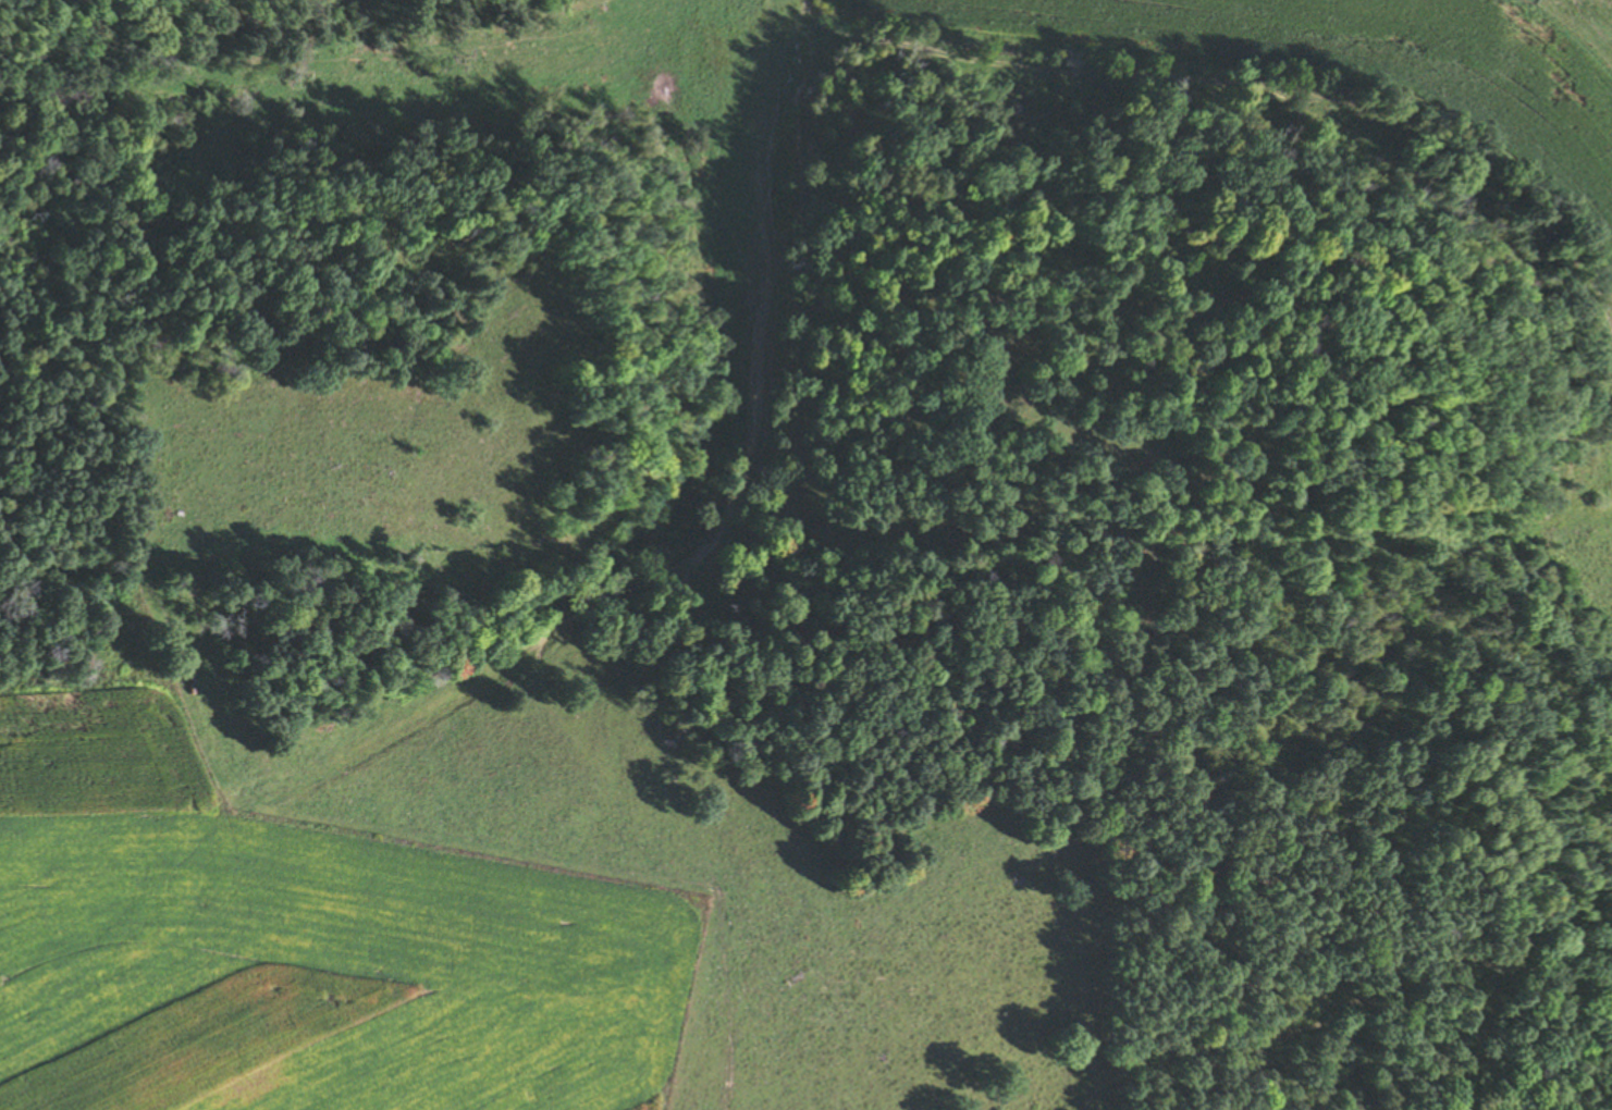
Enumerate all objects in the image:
crop: (1320, 63)
crop: (272, 873)
crop: (336, 1040)

